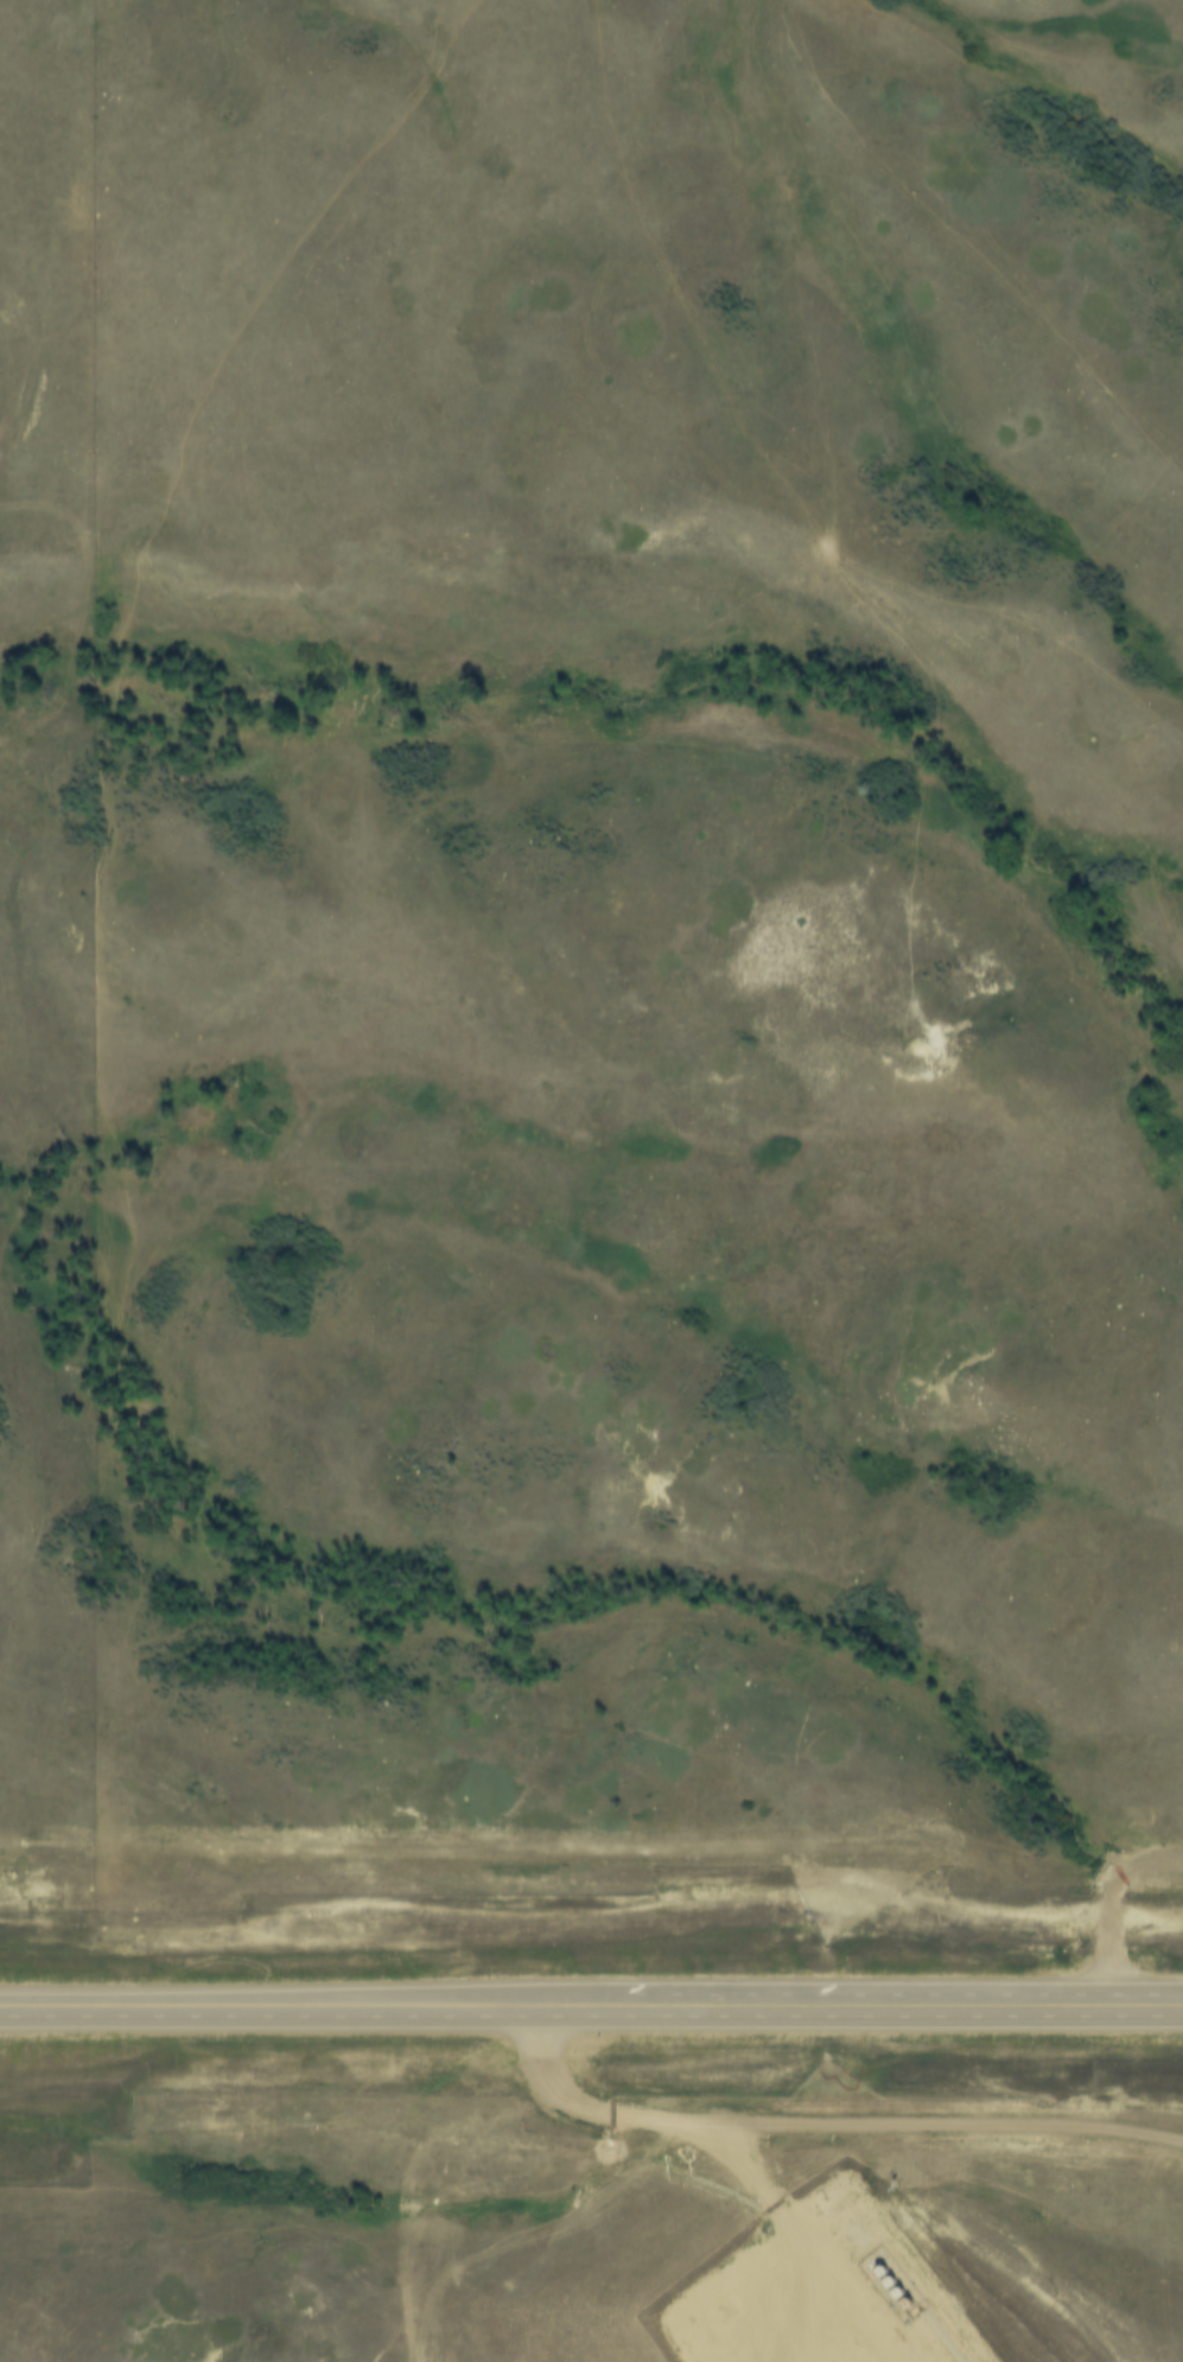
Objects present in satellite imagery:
road: (312, 2010)
road: (724, 2011)
road: (1003, 2012)
road: (819, 2125)

